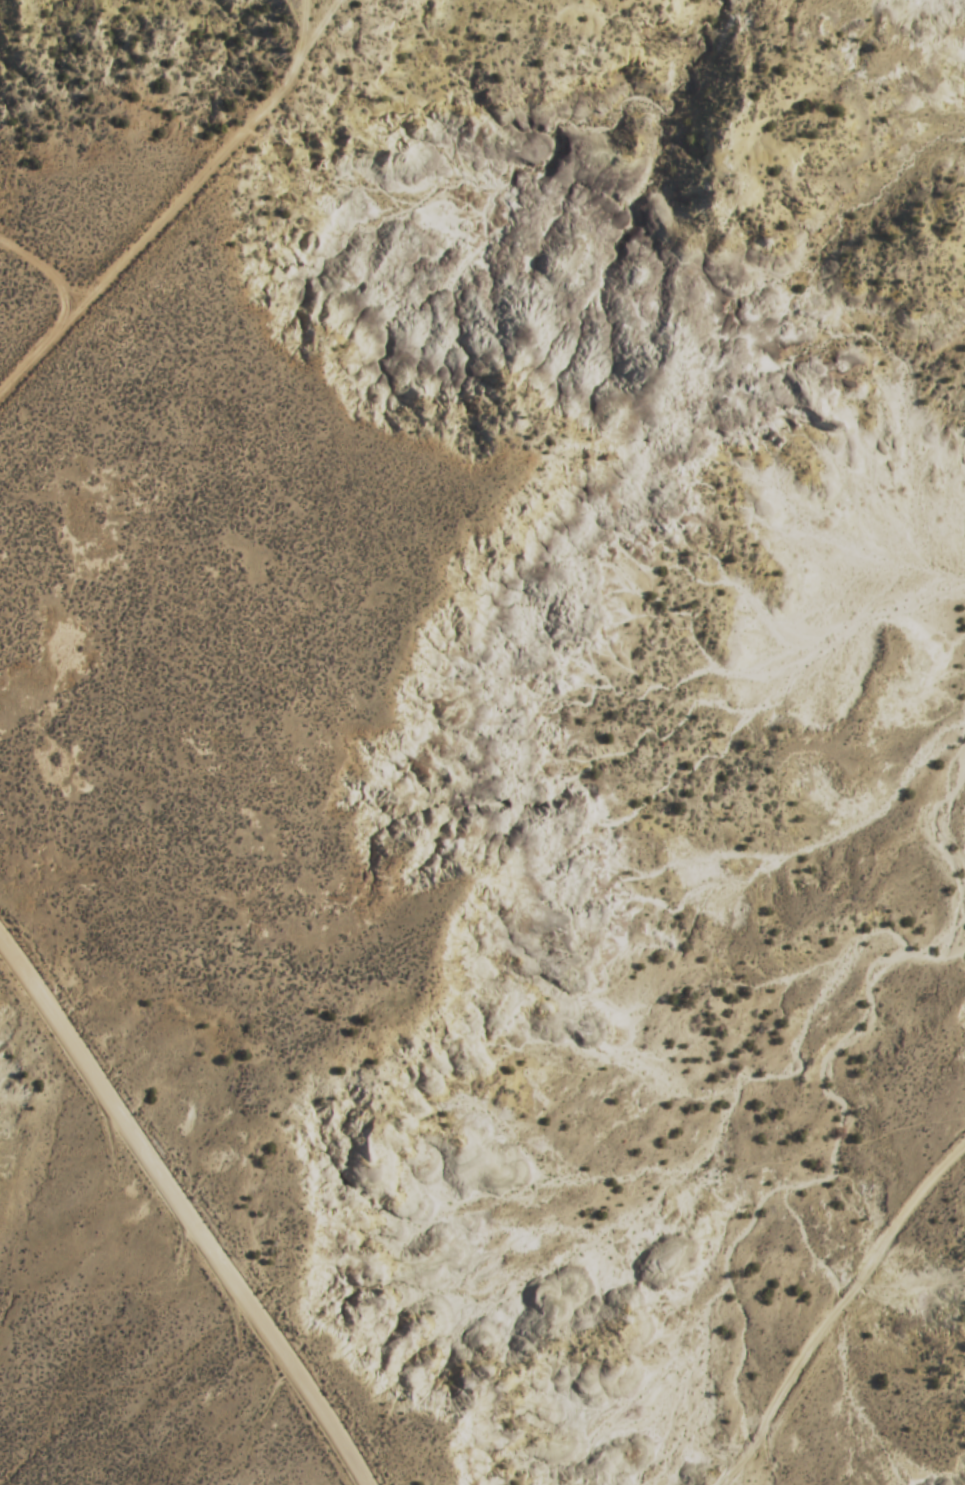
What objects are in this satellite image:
road: (184, 1208)
road: (833, 1305)

